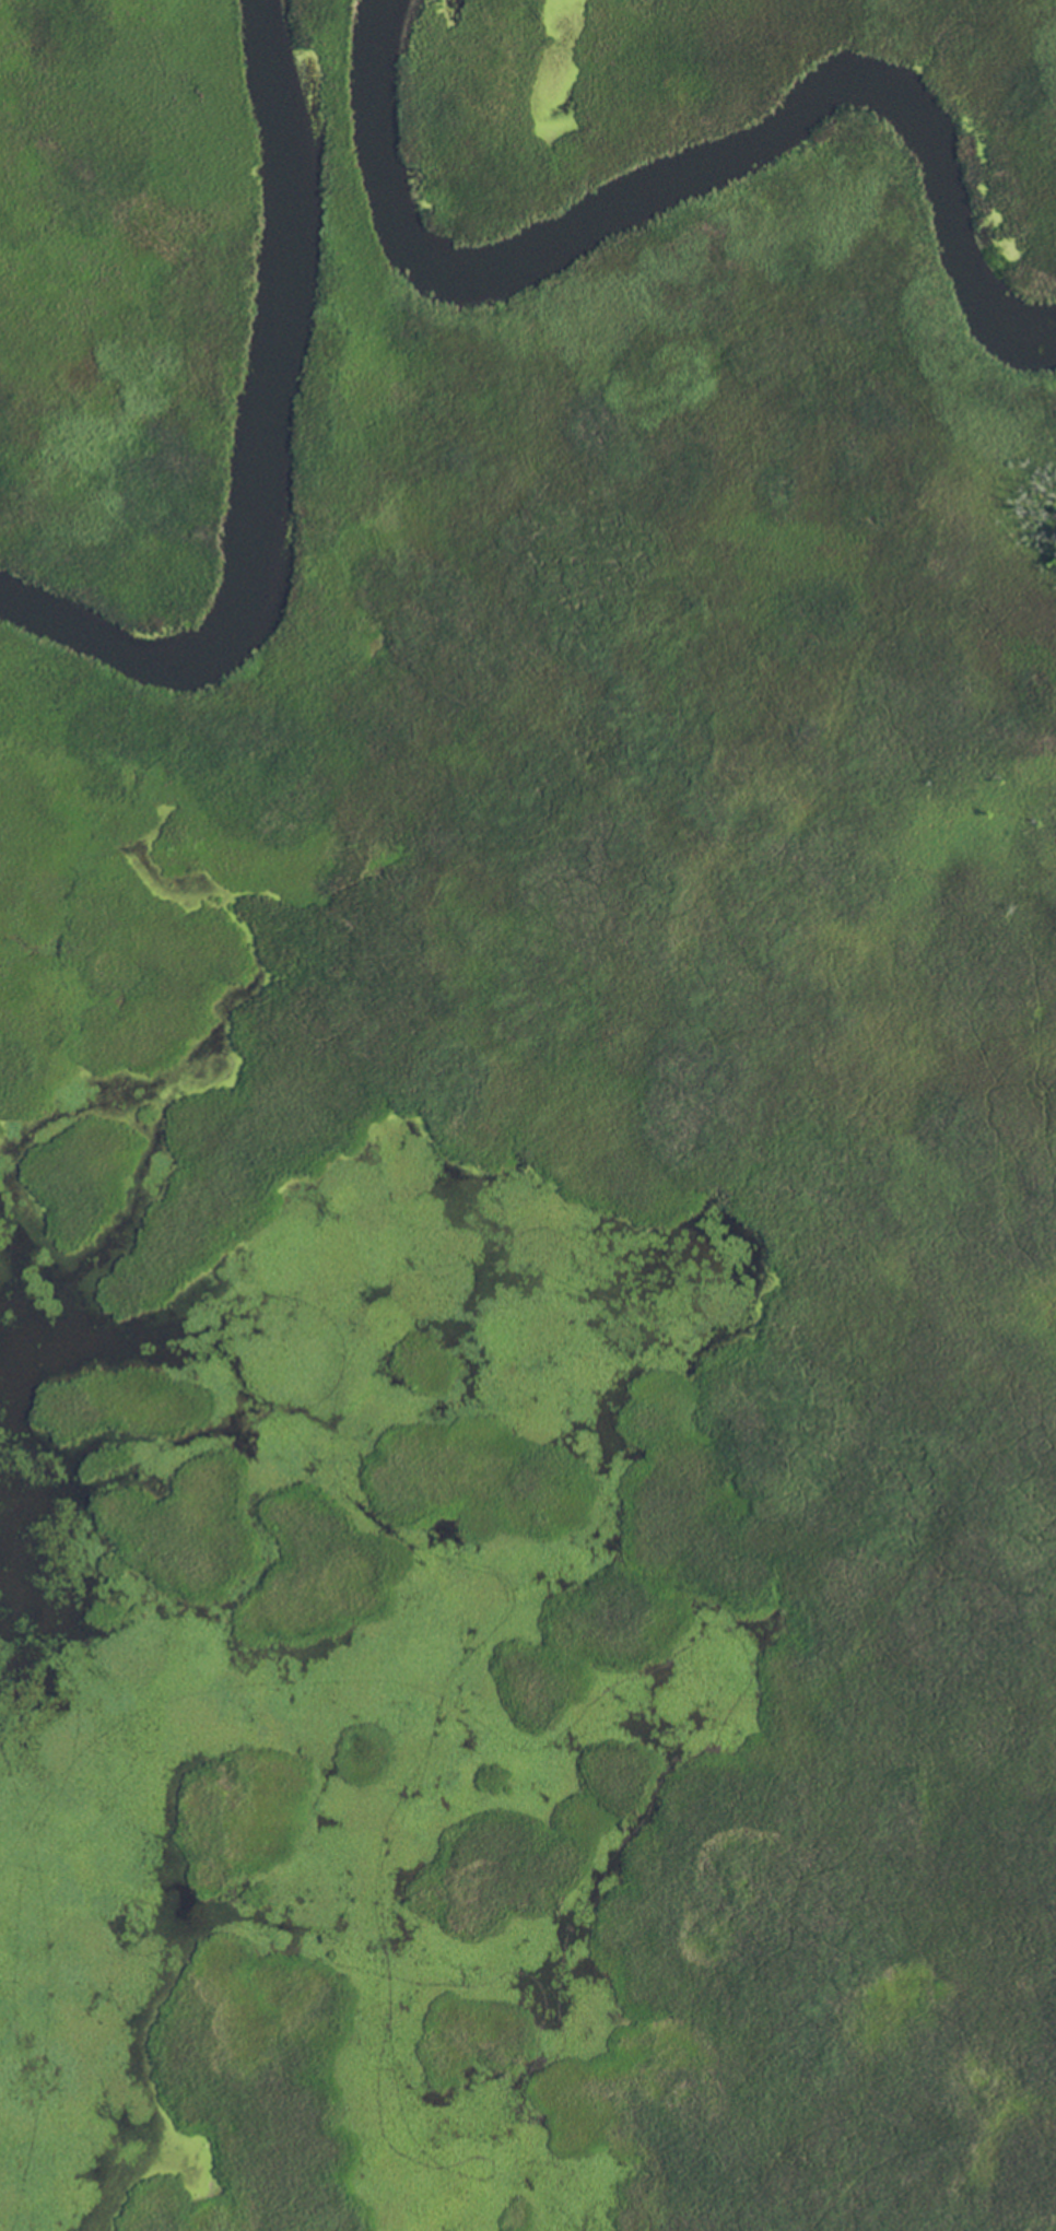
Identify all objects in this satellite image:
river: (678, 171)
river: (256, 434)

